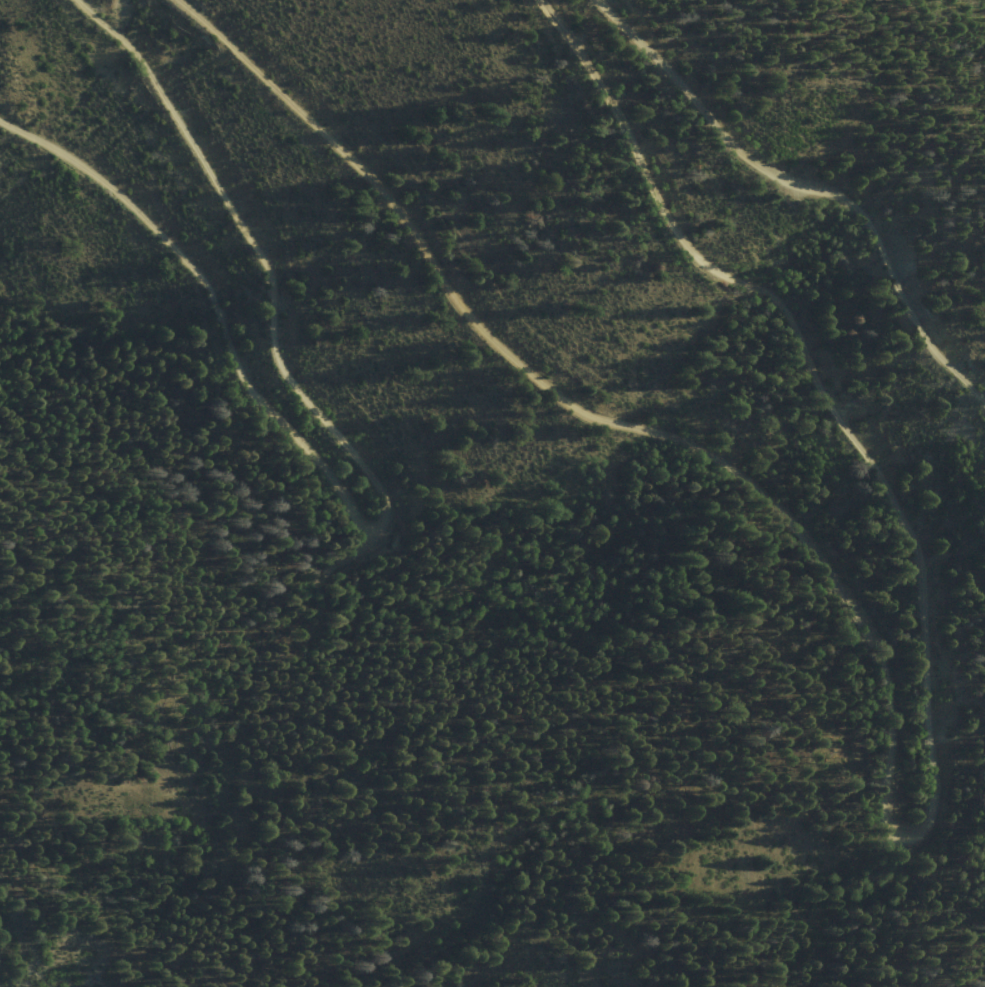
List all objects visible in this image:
road: (808, 186)
road: (385, 504)
road: (489, 617)
road: (892, 762)
road: (336, 880)

